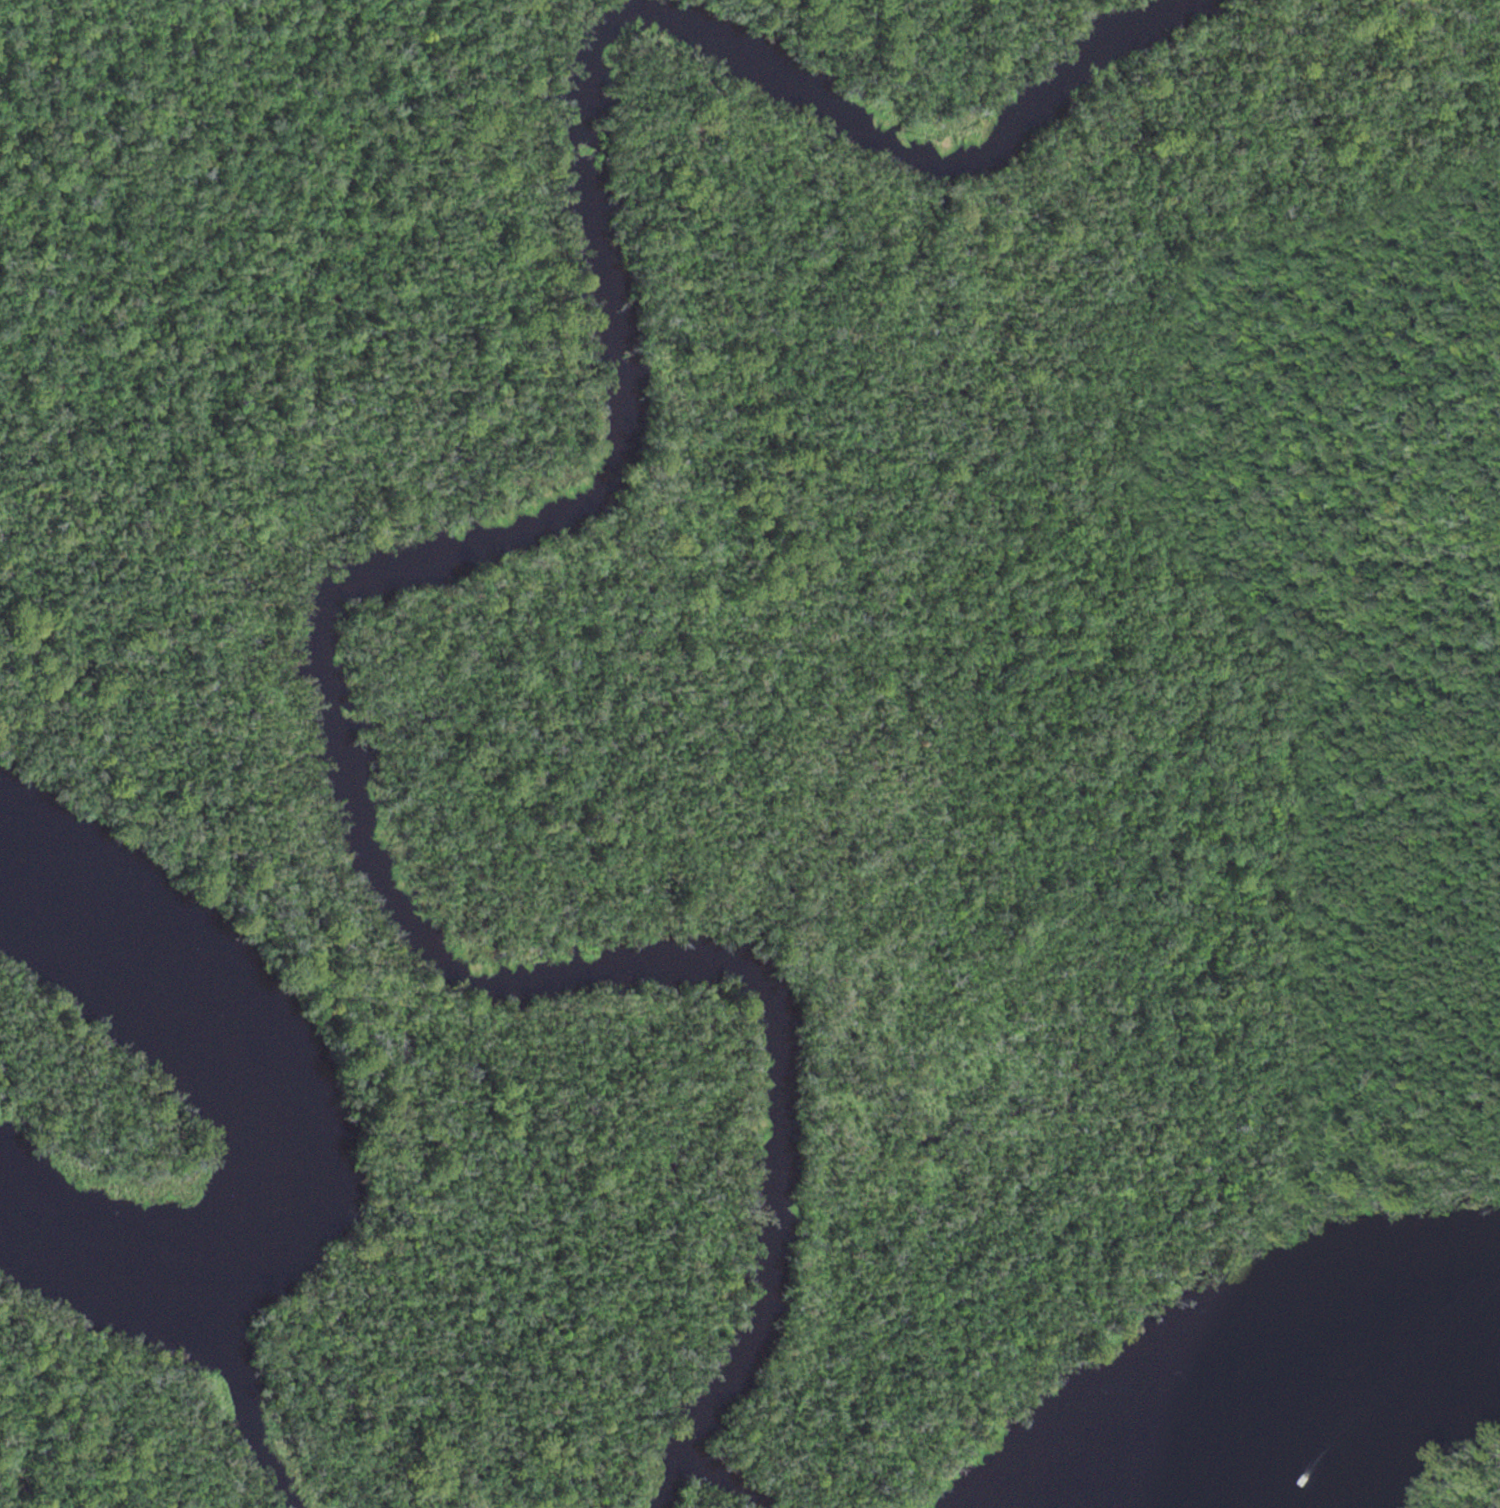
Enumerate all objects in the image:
river: (1319, 1383)

